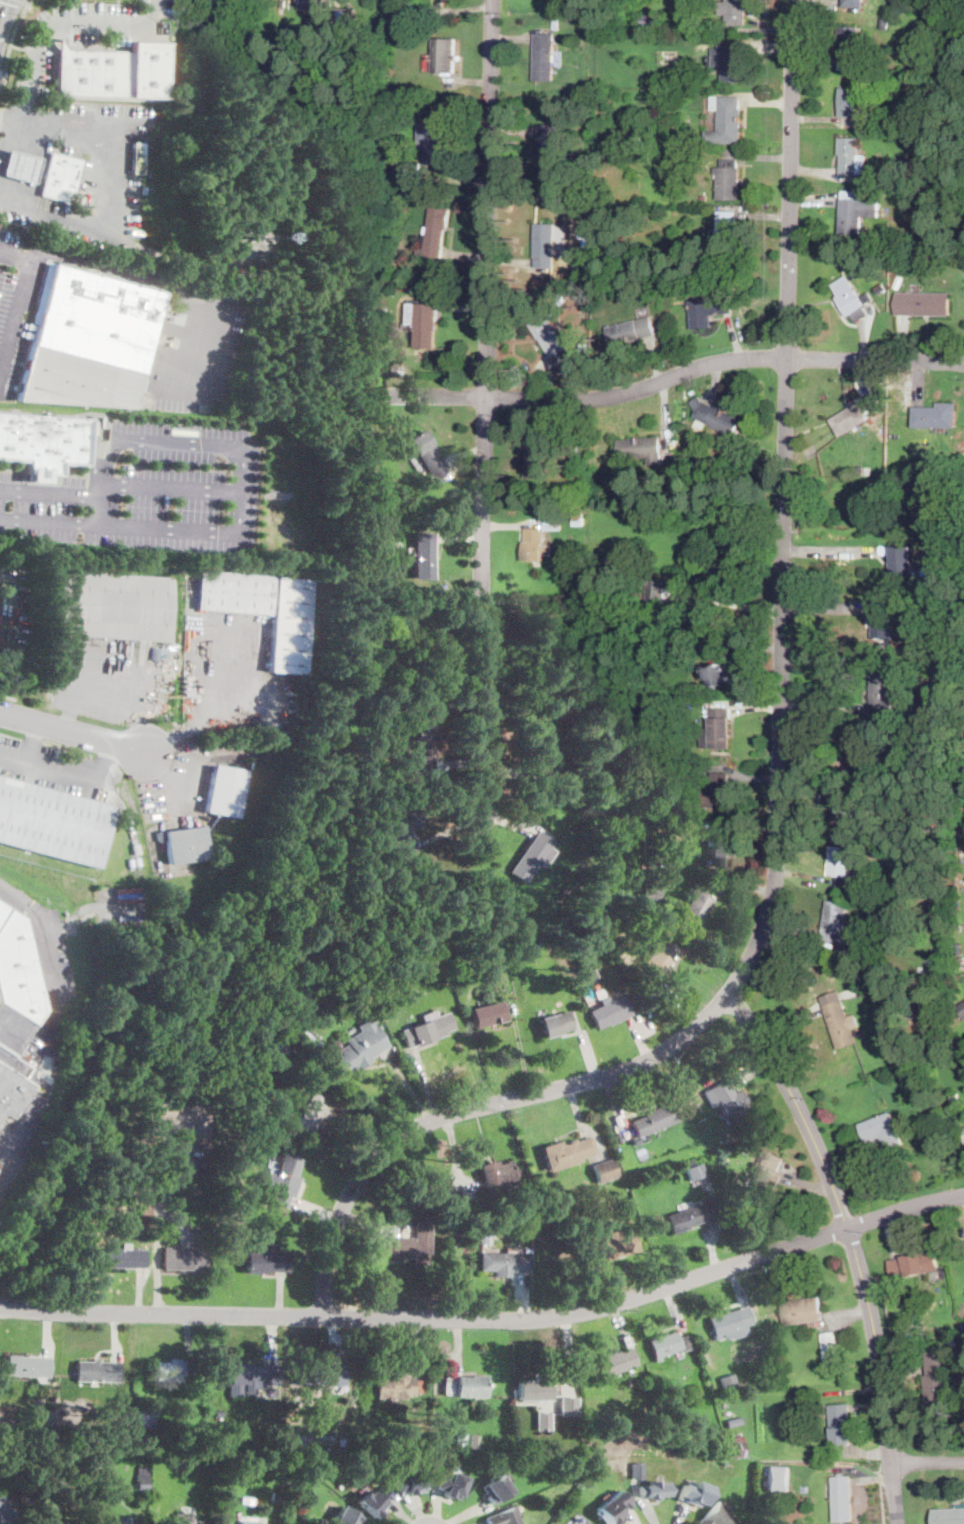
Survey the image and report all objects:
road: (71, 0)
road: (28, 1)
road: (31, 1)
building: (283, 3)
building: (853, 3)
building: (315, 4)
building: (346, 12)
building: (734, 12)
road: (10, 15)
building: (648, 19)
parking lot: (104, 21)
building: (883, 23)
building: (555, 24)
building: (933, 32)
building: (592, 35)
building: (665, 38)
road: (10, 39)
road: (17, 46)
building: (852, 46)
building: (444, 55)
building: (544, 57)
road: (33, 58)
building: (730, 62)
parking lot: (36, 66)
building: (145, 68)
building: (90, 72)
building: (677, 77)
building: (402, 90)
building: (851, 100)
building: (924, 102)
road: (11, 115)
parking lot: (96, 119)
building: (726, 120)
building: (434, 138)
road: (6, 139)
building: (676, 139)
building: (547, 149)
building: (850, 156)
building: (136, 157)
building: (902, 162)
building: (730, 163)
building: (20, 167)
gas station: (20, 167)
building: (412, 169)
building: (60, 177)
building: (728, 182)
building: (144, 188)
building: (702, 197)
building: (919, 198)
building: (855, 211)
road: (96, 226)
building: (727, 231)
building: (435, 233)
building: (544, 245)
building: (687, 249)
building: (909, 252)
building: (922, 252)
building: (719, 264)
building: (580, 273)
road: (160, 282)
building: (880, 288)
building: (851, 298)
road: (19, 302)
building: (922, 303)
parking lot: (14, 305)
building: (708, 310)
building: (424, 324)
building: (631, 331)
building: (548, 334)
building: (89, 340)
parking lot: (199, 350)
road: (672, 376)
road: (484, 410)
building: (938, 415)
building: (716, 416)
building: (851, 418)
building: (44, 443)
road: (237, 443)
building: (640, 447)
building: (427, 454)
building: (535, 457)
road: (11, 467)
road: (168, 486)
parking lot: (142, 490)
road: (50, 493)
building: (618, 495)
road: (49, 519)
building: (578, 519)
building: (553, 524)
building: (536, 546)
road: (829, 549)
building: (424, 556)
parking lot: (0, 559)
building: (902, 561)
building: (609, 563)
building: (395, 584)
building: (658, 590)
parking lot: (12, 602)
road: (734, 602)
building: (113, 605)
building: (264, 610)
building: (901, 613)
building: (883, 622)
building: (194, 649)
building: (154, 652)
building: (719, 675)
parking lot: (107, 678)
parking lot: (233, 682)
building: (882, 693)
building: (665, 710)
building: (908, 711)
building: (938, 713)
building: (718, 729)
road: (74, 730)
road: (32, 742)
building: (423, 748)
building: (275, 749)
building: (534, 750)
building: (860, 752)
road: (110, 763)
parking lot: (55, 768)
road: (53, 770)
building: (561, 775)
road: (778, 785)
building: (224, 791)
building: (714, 792)
building: (852, 809)
building: (52, 823)
building: (406, 828)
building: (184, 844)
building: (653, 846)
building: (720, 851)
building: (211, 854)
building: (533, 857)
building: (842, 864)
building: (649, 891)
building: (563, 892)
building: (694, 909)
building: (900, 912)
building: (835, 923)
building: (857, 938)
building: (533, 942)
building: (422, 954)
building: (957, 954)
building: (661, 956)
building: (861, 958)
building: (570, 966)
building: (591, 972)
building: (871, 987)
building: (961, 1007)
building: (15, 1008)
building: (609, 1012)
building: (936, 1012)
building: (487, 1014)
building: (857, 1019)
building: (555, 1023)
building: (840, 1024)
building: (428, 1028)
building: (306, 1032)
building: (357, 1048)
building: (279, 1050)
building: (954, 1097)
building: (677, 1102)
building: (728, 1102)
building: (681, 1107)
building: (309, 1118)
building: (653, 1120)
building: (882, 1130)
building: (623, 1150)
building: (566, 1152)
building: (724, 1152)
building: (196, 1169)
building: (604, 1170)
building: (695, 1170)
building: (497, 1173)
building: (147, 1175)
building: (764, 1178)
building: (282, 1180)
building: (405, 1187)
building: (465, 1195)
building: (546, 1201)
building: (97, 1206)
road: (905, 1210)
building: (552, 1214)
building: (691, 1215)
building: (513, 1235)
building: (485, 1237)
building: (453, 1238)
building: (471, 1238)
building: (605, 1245)
road: (852, 1245)
building: (405, 1246)
building: (221, 1247)
building: (123, 1257)
building: (184, 1258)
building: (267, 1260)
building: (505, 1262)
building: (913, 1265)
building: (939, 1295)
building: (803, 1311)
road: (430, 1318)
building: (731, 1322)
building: (955, 1324)
building: (942, 1326)
building: (946, 1334)
building: (952, 1342)
building: (666, 1344)
building: (829, 1349)
building: (614, 1363)
building: (27, 1366)
building: (172, 1370)
building: (97, 1371)
building: (318, 1374)
building: (655, 1375)
building: (251, 1377)
building: (727, 1382)
building: (466, 1386)
building: (938, 1386)
building: (394, 1387)
building: (533, 1390)
building: (136, 1395)
building: (566, 1404)
building: (219, 1413)
building: (145, 1419)
building: (541, 1420)
building: (733, 1422)
building: (840, 1423)
building: (48, 1430)
building: (118, 1434)
building: (271, 1434)
building: (319, 1440)
building: (461, 1440)
building: (474, 1440)
building: (408, 1442)
building: (398, 1443)
building: (737, 1446)
building: (582, 1448)
building: (160, 1456)
road: (927, 1463)
building: (72, 1464)
building: (95, 1464)
building: (637, 1470)
building: (142, 1477)
building: (778, 1478)
building: (411, 1482)
building: (451, 1485)
building: (495, 1489)
building: (653, 1489)
building: (694, 1494)
building: (274, 1495)
building: (842, 1498)
building: (373, 1500)
building: (613, 1508)
building: (5, 1512)
building: (346, 1516)
building: (504, 1516)
building: (718, 1516)
building: (948, 1516)
building: (183, 1518)
building: (57, 1519)
building: (121, 1519)
building: (322, 1520)
building: (247, 1522)
building: (579, 1523)
building: (589, 1523)

